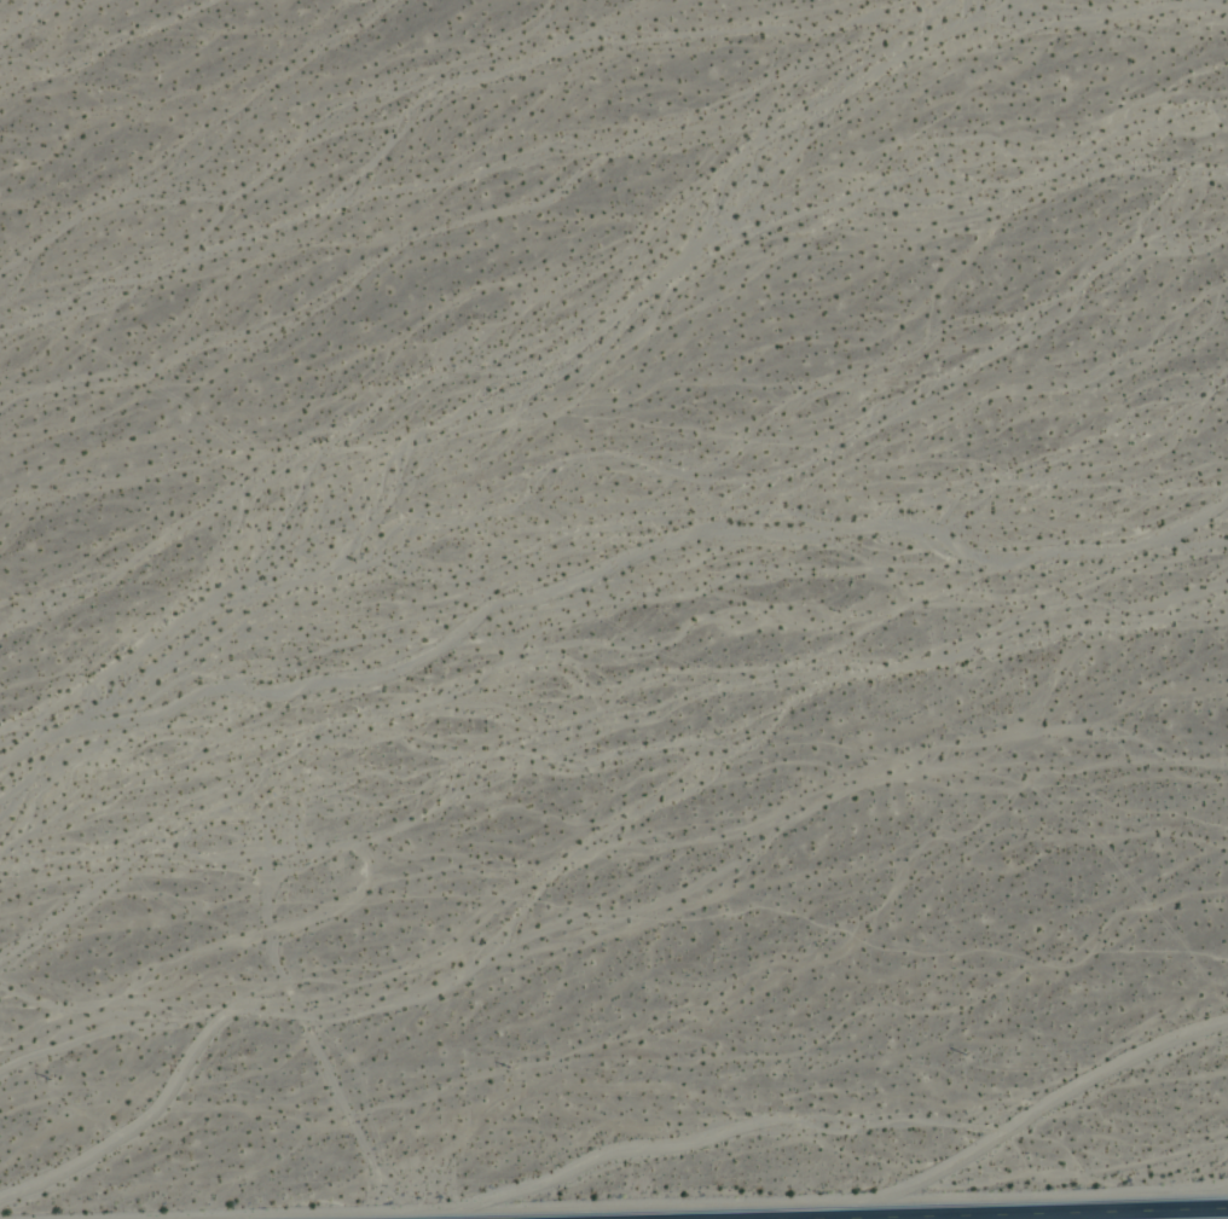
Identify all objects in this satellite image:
road: (1014, 1213)

